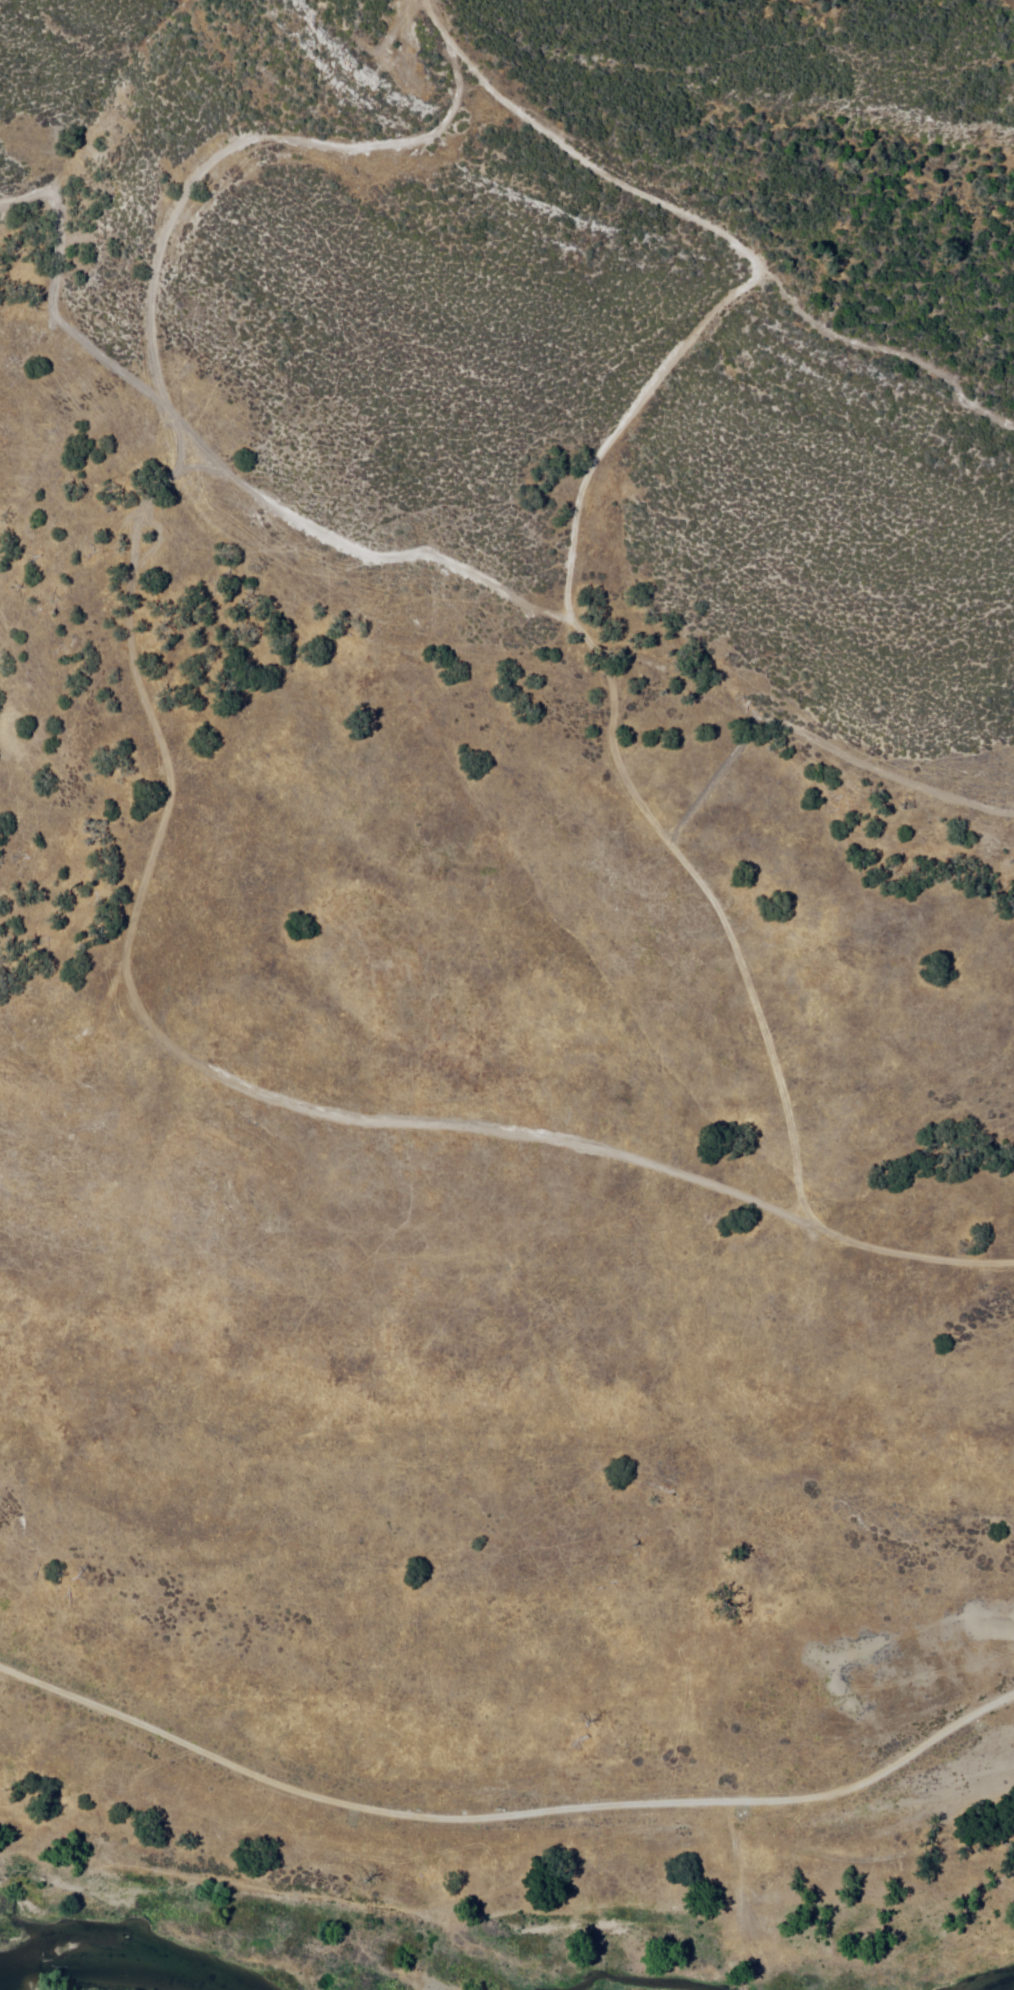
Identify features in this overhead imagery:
road: (583, 629)
road: (506, 1822)
river: (16, 1964)
river: (78, 1977)

